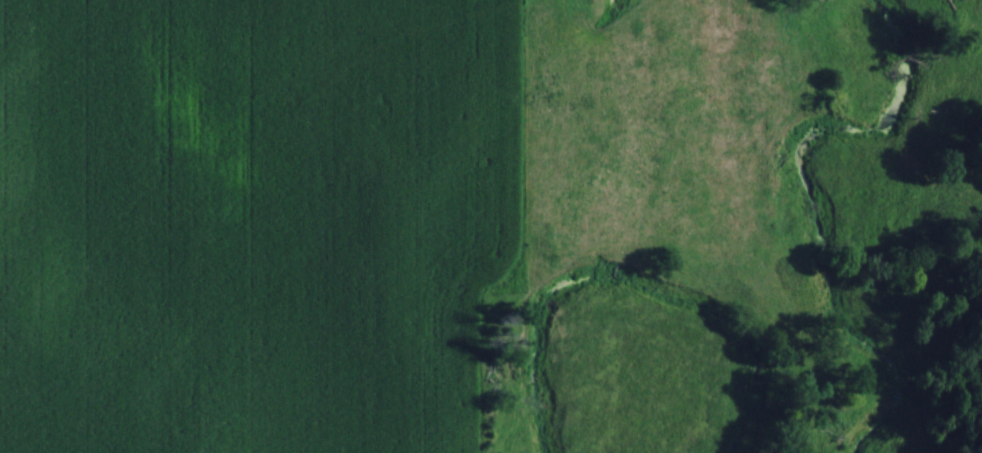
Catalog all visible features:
river: (814, 210)
river: (628, 284)
river: (882, 417)

